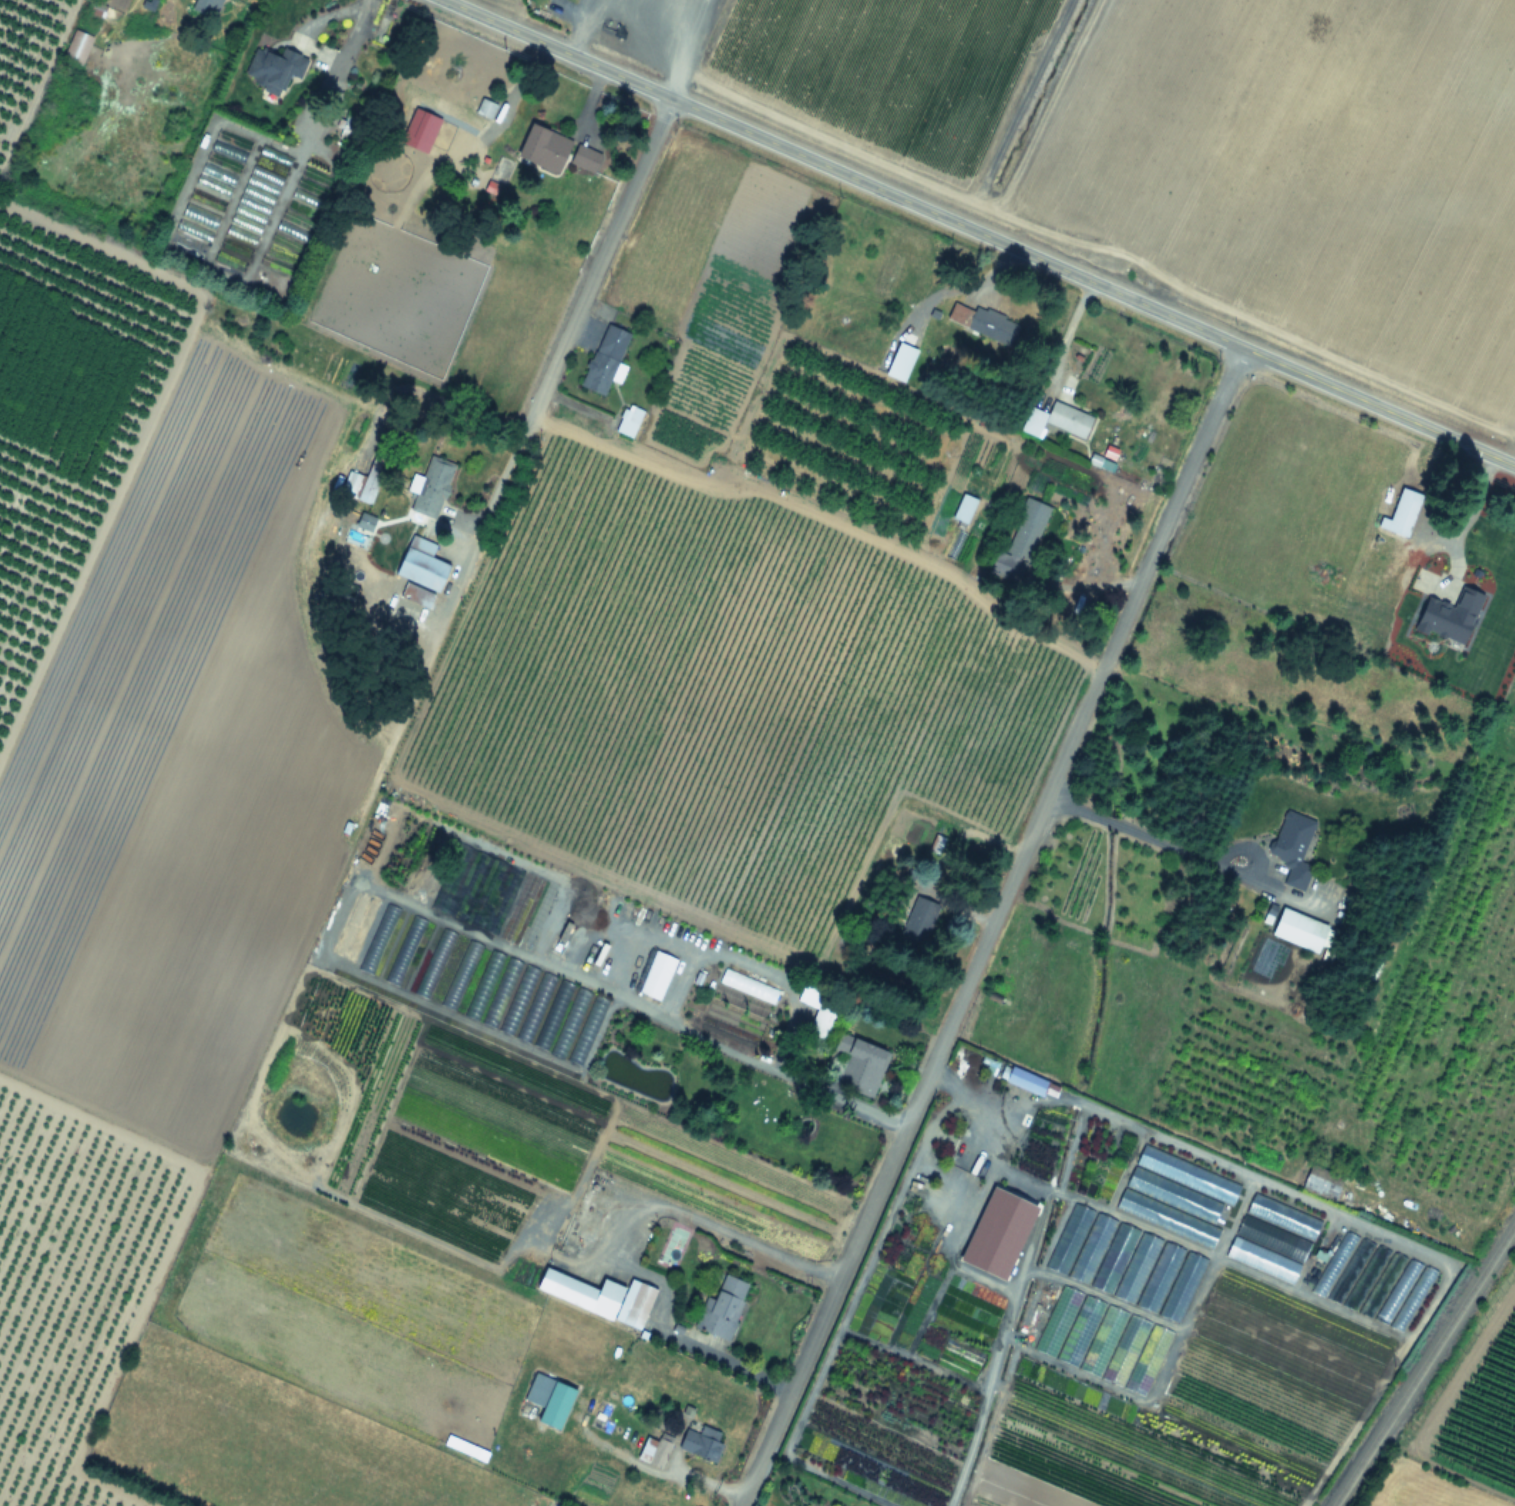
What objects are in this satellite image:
building: (205, 7)
road: (582, 27)
road: (345, 35)
road: (675, 44)
building: (76, 48)
building: (272, 69)
building: (461, 113)
building: (349, 126)
crop: (1182, 144)
building: (542, 148)
building: (583, 157)
building: (193, 229)
road: (979, 232)
road: (593, 274)
building: (981, 322)
building: (603, 359)
building: (899, 362)
building: (1055, 420)
building: (628, 421)
building: (369, 482)
building: (349, 484)
building: (429, 488)
road: (1464, 493)
building: (1401, 513)
building: (1022, 534)
building: (1505, 548)
building: (415, 575)
road: (1084, 577)
road: (442, 613)
crop: (691, 825)
building: (1291, 847)
road: (1183, 853)
road: (422, 907)
building: (918, 919)
road: (990, 926)
building: (1298, 929)
road: (651, 932)
building: (821, 1020)
building: (856, 1063)
building: (1025, 1080)
road: (1189, 1148)
building: (1319, 1185)
building: (1278, 1238)
road: (617, 1252)
building: (599, 1296)
building: (721, 1308)
railway: (1424, 1364)
building: (548, 1399)
building: (700, 1443)
building: (653, 1450)
road: (673, 1473)

